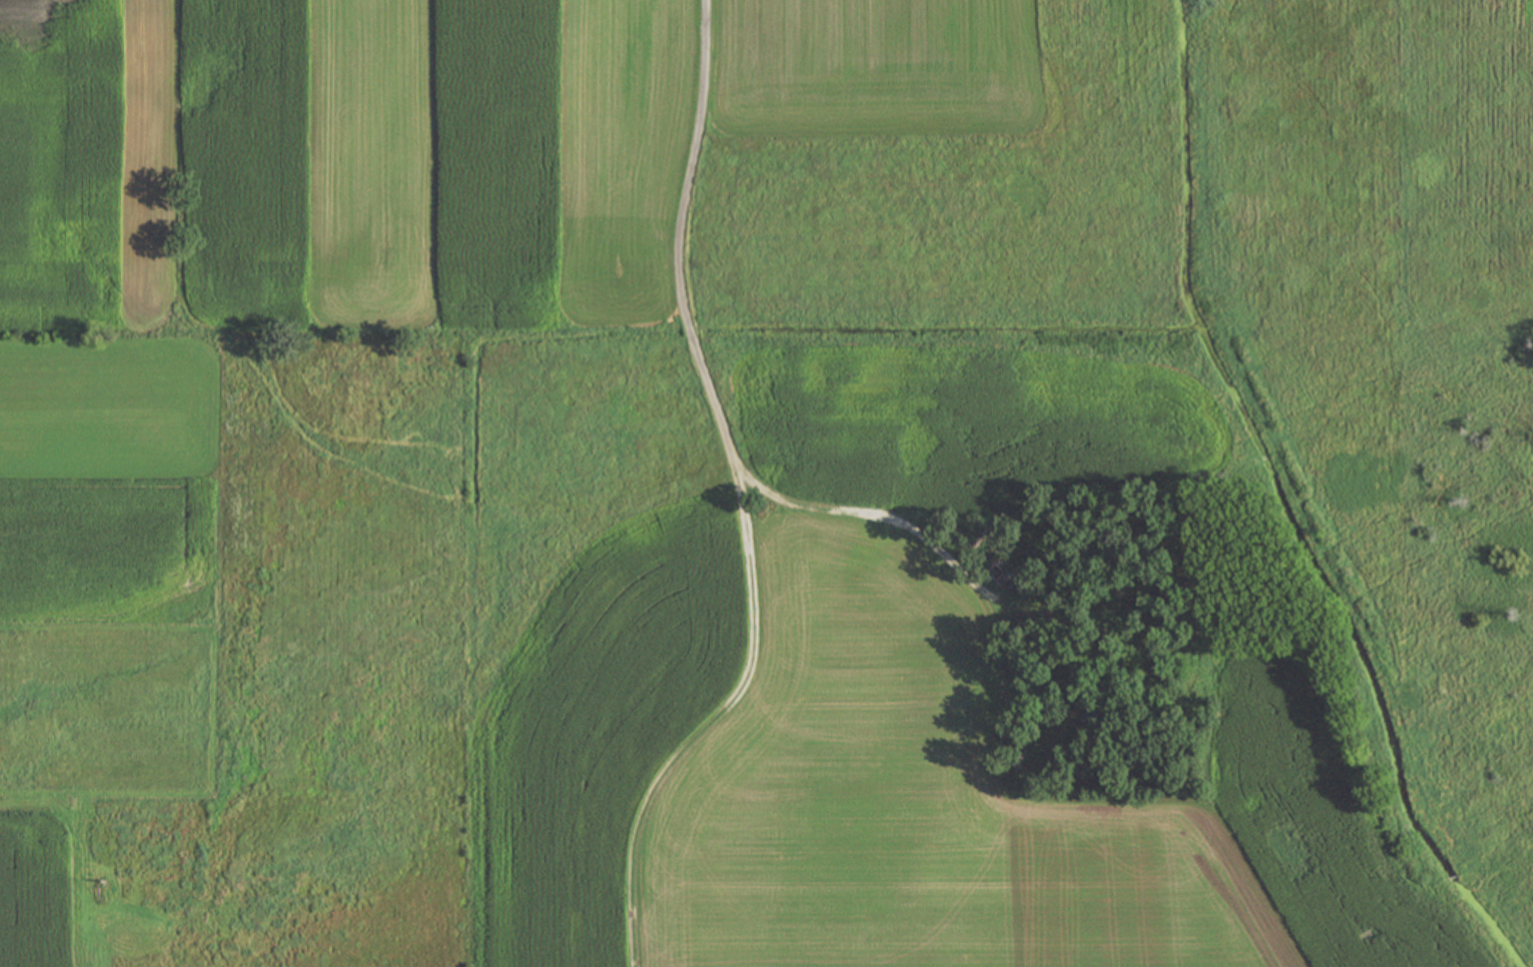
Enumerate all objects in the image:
road: (681, 312)

